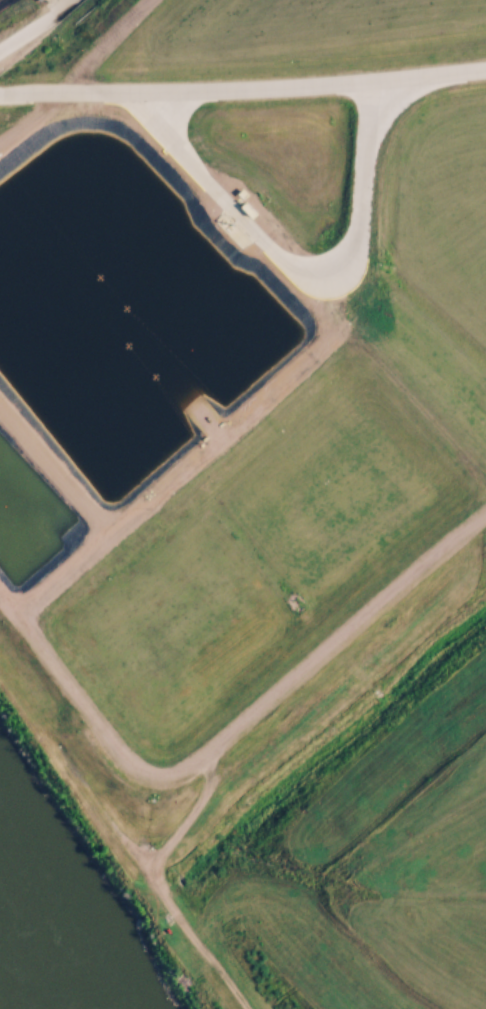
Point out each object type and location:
railway: (1, 1)
road: (44, 41)
building: (408, 54)
road: (265, 248)
power plant: (235, 372)
road: (243, 730)

